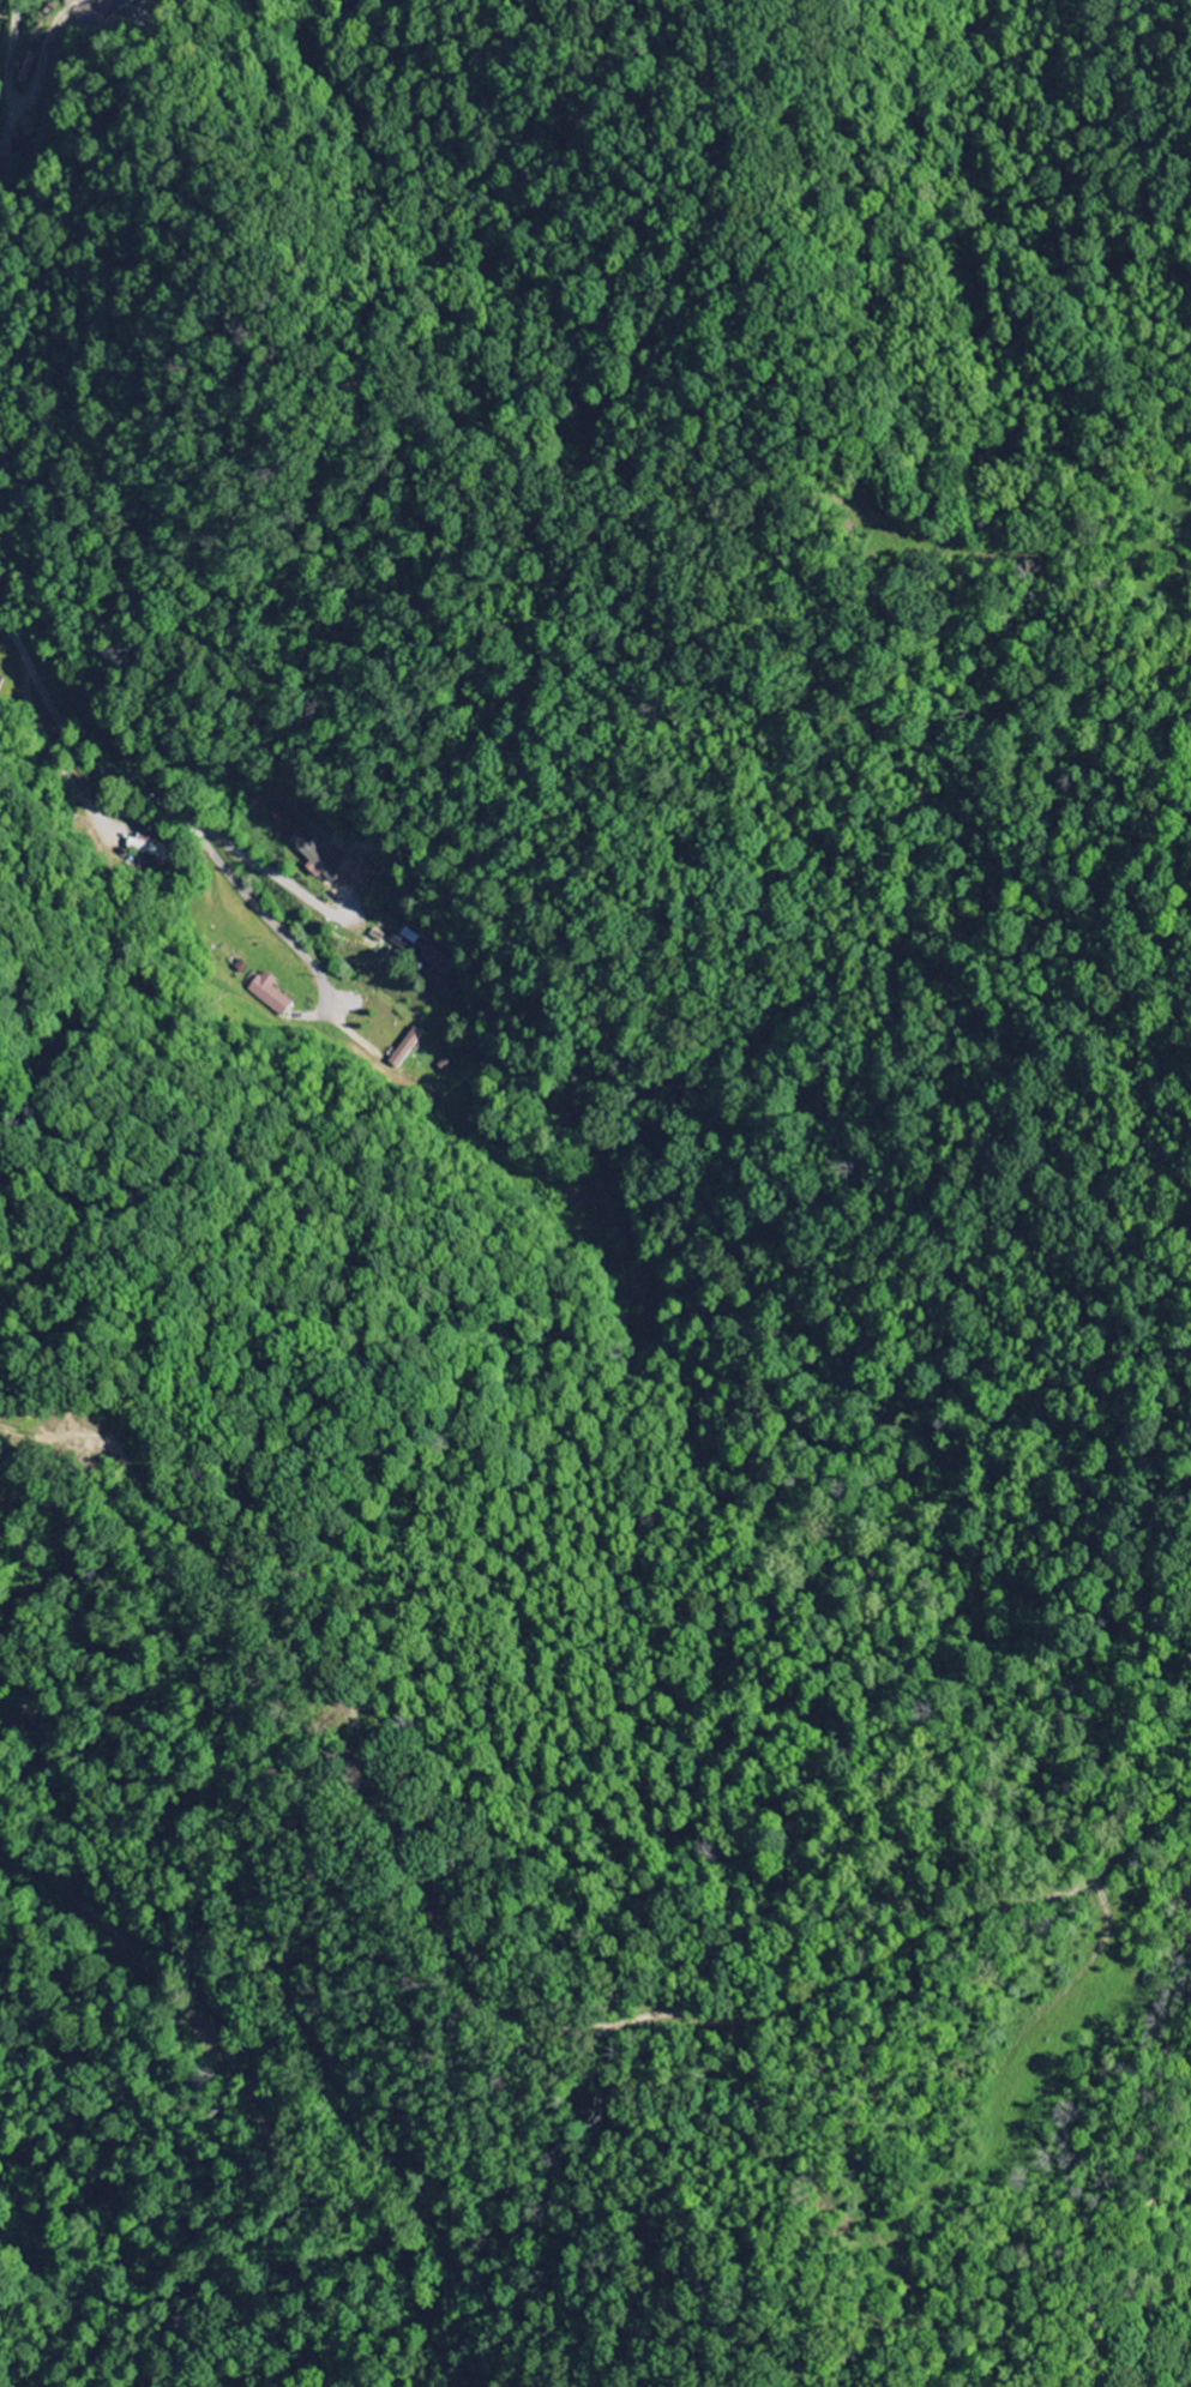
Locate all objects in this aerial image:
building: (0, 680)
road: (174, 806)
building: (145, 847)
building: (312, 858)
building: (434, 962)
building: (267, 994)
building: (405, 1044)
road: (236, 1886)

